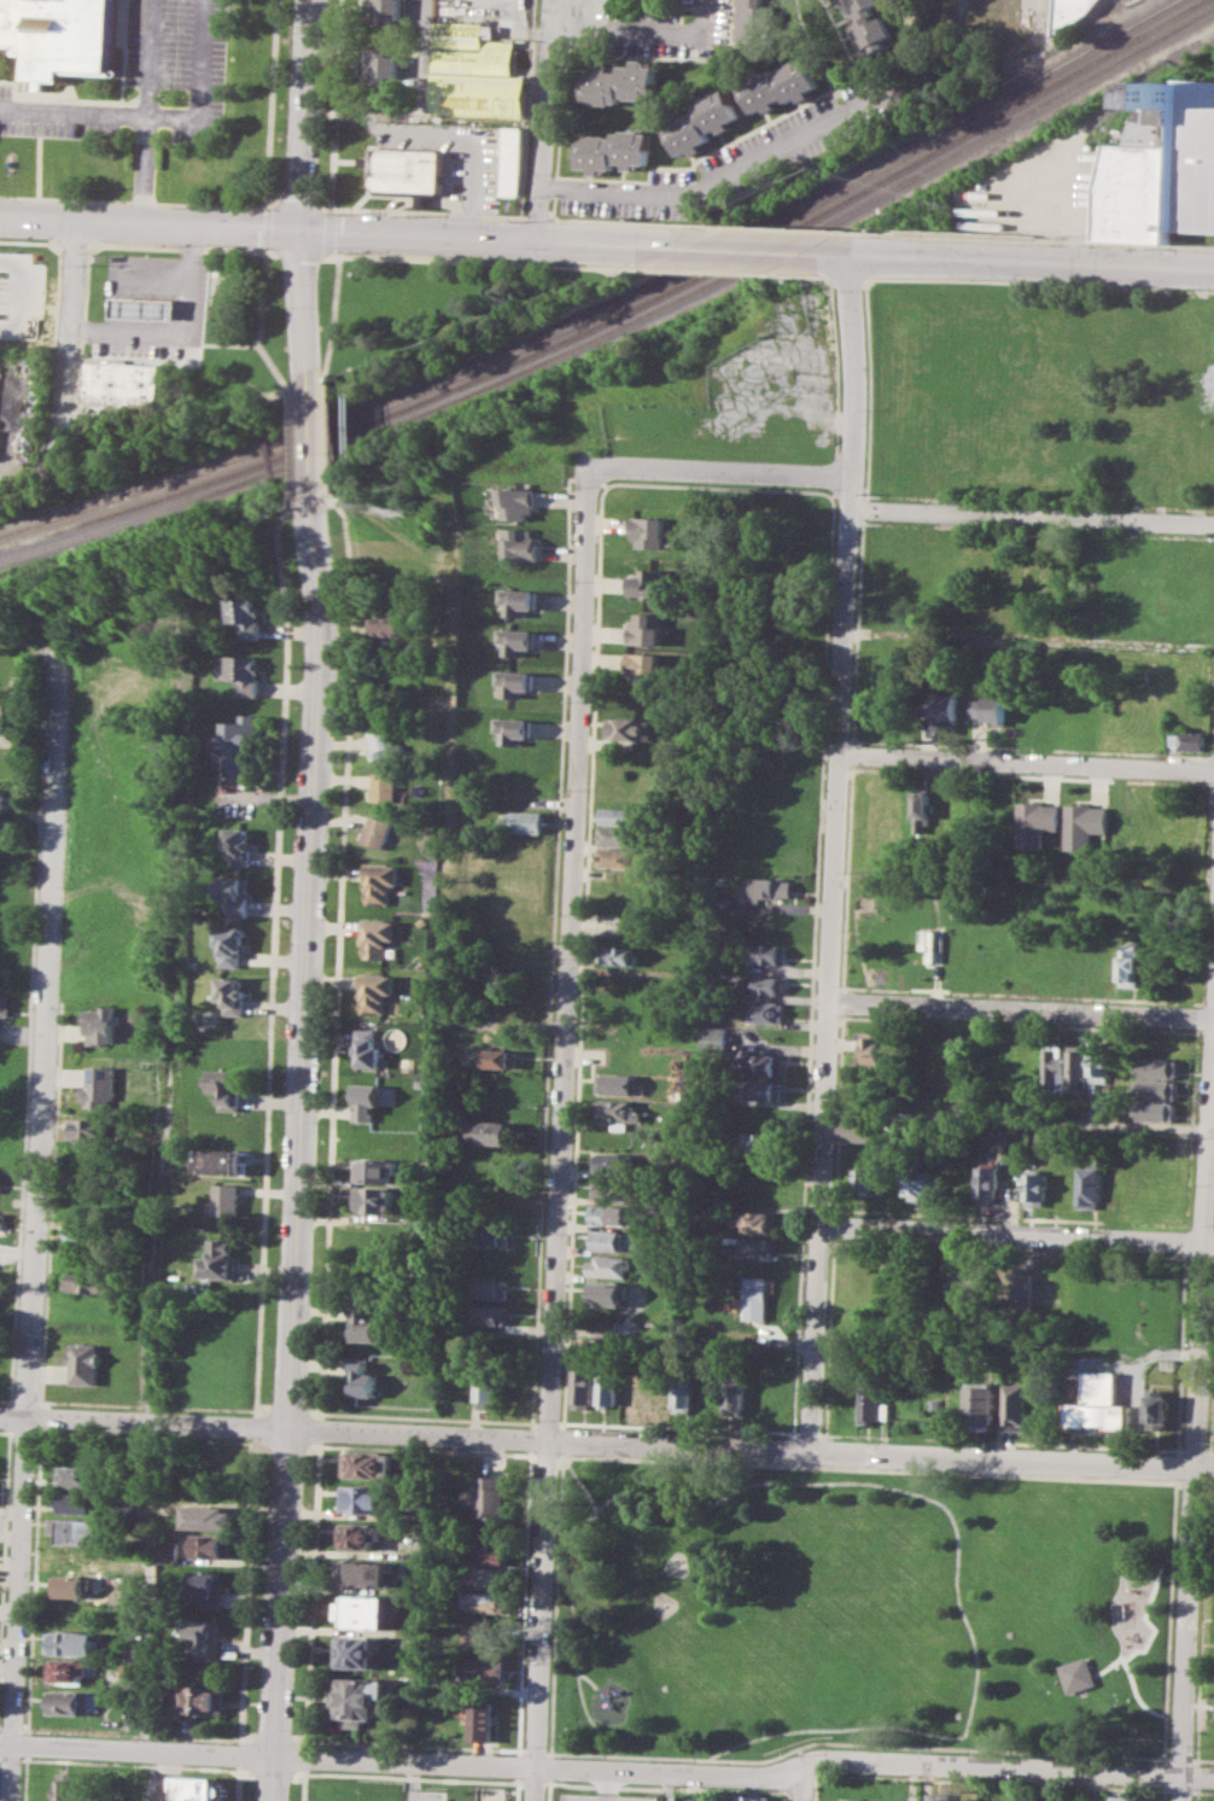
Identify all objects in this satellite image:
building: (380, 11)
building: (1069, 11)
building: (751, 22)
building: (868, 24)
parking lot: (670, 25)
road: (529, 29)
road: (648, 30)
building: (57, 34)
road: (148, 58)
building: (379, 65)
building: (474, 71)
railway: (1149, 76)
parking lot: (146, 81)
building: (619, 82)
building: (783, 84)
road: (335, 103)
road: (303, 115)
road: (157, 116)
road: (420, 116)
road: (547, 117)
building: (707, 122)
road: (478, 144)
building: (620, 148)
road: (40, 153)
parking lot: (761, 153)
building: (513, 159)
building: (1162, 167)
building: (408, 169)
road: (144, 170)
road: (731, 180)
road: (269, 202)
road: (298, 203)
road: (234, 204)
road: (424, 210)
road: (542, 216)
road: (641, 221)
road: (151, 225)
road: (268, 226)
road: (787, 228)
street lamp: (10, 237)
road: (500, 239)
road: (1029, 240)
street lamp: (168, 244)
road: (754, 250)
street lamp: (350, 252)
road: (1011, 261)
road: (115, 263)
railway: (606, 305)
building: (148, 308)
gas station: (148, 308)
road: (307, 310)
railway: (618, 314)
road: (267, 324)
railway: (624, 324)
road: (72, 326)
road: (185, 334)
building: (127, 381)
road: (316, 443)
road: (300, 447)
road: (719, 472)
building: (521, 502)
road: (1032, 515)
building: (649, 531)
building: (519, 543)
building: (648, 582)
building: (515, 599)
building: (247, 617)
building: (385, 626)
building: (646, 628)
building: (514, 640)
road: (1029, 640)
building: (644, 668)
building: (245, 674)
building: (512, 681)
building: (941, 706)
building: (991, 709)
building: (5, 711)
building: (628, 727)
building: (510, 729)
building: (1187, 739)
building: (385, 742)
building: (237, 746)
road: (1026, 762)
building: (384, 786)
building: (6, 797)
building: (923, 811)
building: (619, 815)
building: (521, 821)
building: (1033, 822)
building: (1080, 824)
building: (379, 830)
building: (615, 835)
building: (238, 844)
road: (834, 852)
building: (618, 857)
building: (379, 881)
building: (772, 885)
building: (234, 892)
building: (378, 936)
building: (230, 944)
building: (766, 952)
building: (618, 954)
road: (272, 956)
building: (1127, 966)
building: (764, 983)
building: (377, 991)
building: (232, 995)
building: (2, 1004)
road: (1021, 1010)
building: (765, 1012)
road: (25, 1021)
building: (99, 1025)
building: (714, 1037)
building: (872, 1047)
building: (368, 1048)
building: (496, 1057)
building: (764, 1063)
building: (1155, 1066)
building: (1075, 1067)
building: (1098, 1068)
building: (1051, 1069)
building: (617, 1084)
building: (97, 1086)
building: (226, 1086)
building: (1154, 1088)
building: (765, 1090)
building: (366, 1101)
building: (617, 1109)
building: (1154, 1111)
road: (562, 1117)
road: (1019, 1121)
road: (298, 1126)
building: (92, 1129)
building: (860, 1130)
building: (490, 1131)
building: (1012, 1136)
building: (761, 1141)
building: (221, 1160)
building: (615, 1161)
building: (761, 1168)
building: (375, 1170)
building: (865, 1181)
building: (922, 1182)
building: (988, 1183)
building: (1090, 1185)
building: (612, 1189)
building: (1035, 1189)
building: (226, 1199)
building: (374, 1200)
road: (48, 1203)
building: (613, 1214)
building: (418, 1217)
building: (1, 1219)
building: (754, 1220)
road: (34, 1224)
building: (84, 1231)
road: (1016, 1232)
building: (490, 1236)
building: (613, 1240)
building: (753, 1246)
building: (216, 1260)
building: (607, 1265)
building: (86, 1282)
building: (1023, 1283)
building: (969, 1284)
building: (486, 1287)
building: (608, 1293)
building: (754, 1298)
building: (485, 1315)
building: (361, 1322)
road: (1138, 1352)
building: (845, 1360)
building: (86, 1363)
building: (360, 1376)
building: (607, 1385)
building: (582, 1387)
building: (490, 1388)
building: (632, 1388)
building: (659, 1391)
building: (684, 1391)
building: (734, 1393)
road: (146, 1405)
building: (871, 1405)
building: (981, 1405)
building: (1014, 1405)
building: (1099, 1405)
building: (1157, 1410)
road: (8, 1416)
road: (40, 1417)
road: (1193, 1424)
road: (253, 1426)
road: (4, 1430)
road: (606, 1441)
building: (367, 1464)
road: (574, 1474)
building: (78, 1475)
road: (859, 1481)
building: (492, 1497)
building: (362, 1498)
building: (81, 1503)
building: (209, 1516)
building: (82, 1529)
road: (4, 1533)
building: (360, 1535)
building: (214, 1544)
building: (169, 1549)
building: (491, 1551)
building: (80, 1557)
road: (1161, 1570)
building: (366, 1572)
building: (488, 1578)
road: (34, 1581)
building: (74, 1585)
building: (206, 1586)
road: (247, 1590)
building: (485, 1602)
park: (858, 1609)
building: (364, 1611)
building: (484, 1634)
road: (1151, 1637)
building: (206, 1638)
road: (573, 1642)
building: (75, 1643)
building: (356, 1650)
building: (132, 1668)
building: (484, 1668)
building: (72, 1669)
building: (1078, 1674)
road: (588, 1678)
building: (198, 1698)
building: (358, 1698)
building: (75, 1702)
building: (483, 1720)
street lamp: (292, 1727)
road: (847, 1727)
street lamp: (230, 1742)
road: (27, 1743)
street lamp: (523, 1744)
road: (136, 1749)
road: (241, 1754)
road: (1162, 1758)
road: (874, 1760)
road: (404, 1762)
street lamp: (315, 1770)
street lamp: (402, 1773)
road: (25, 1778)
street lamp: (504, 1778)
road: (273, 1779)
street lamp: (553, 1779)
road: (410, 1782)
road: (801, 1782)
road: (239, 1783)
road: (536, 1784)
road: (664, 1785)
building: (69, 1787)
building: (203, 1788)
building: (940, 1796)
parking lot: (600, 1797)
building: (684, 1797)
building: (749, 1797)
building: (1128, 1797)
building: (848, 1799)

